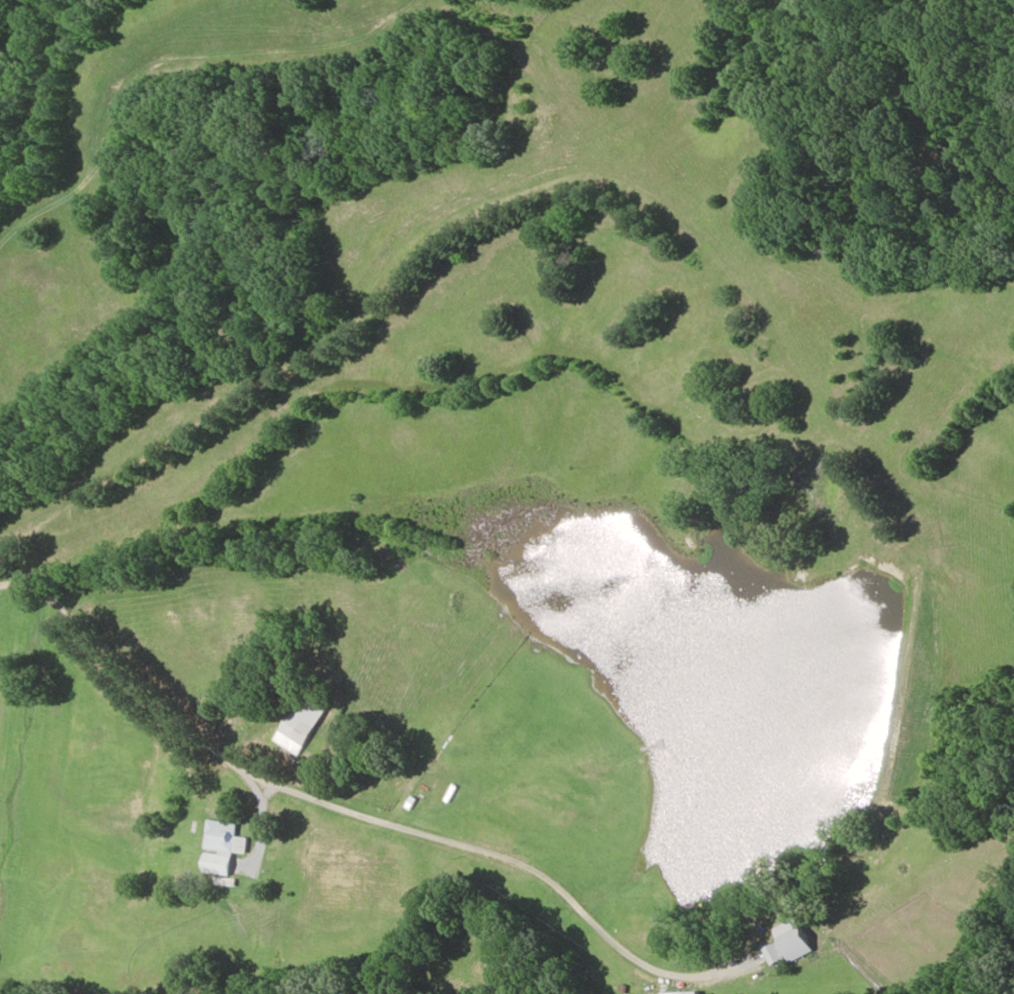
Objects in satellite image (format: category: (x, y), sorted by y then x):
road: (490, 184)
building: (302, 724)
building: (223, 847)
building: (797, 939)
building: (777, 954)

